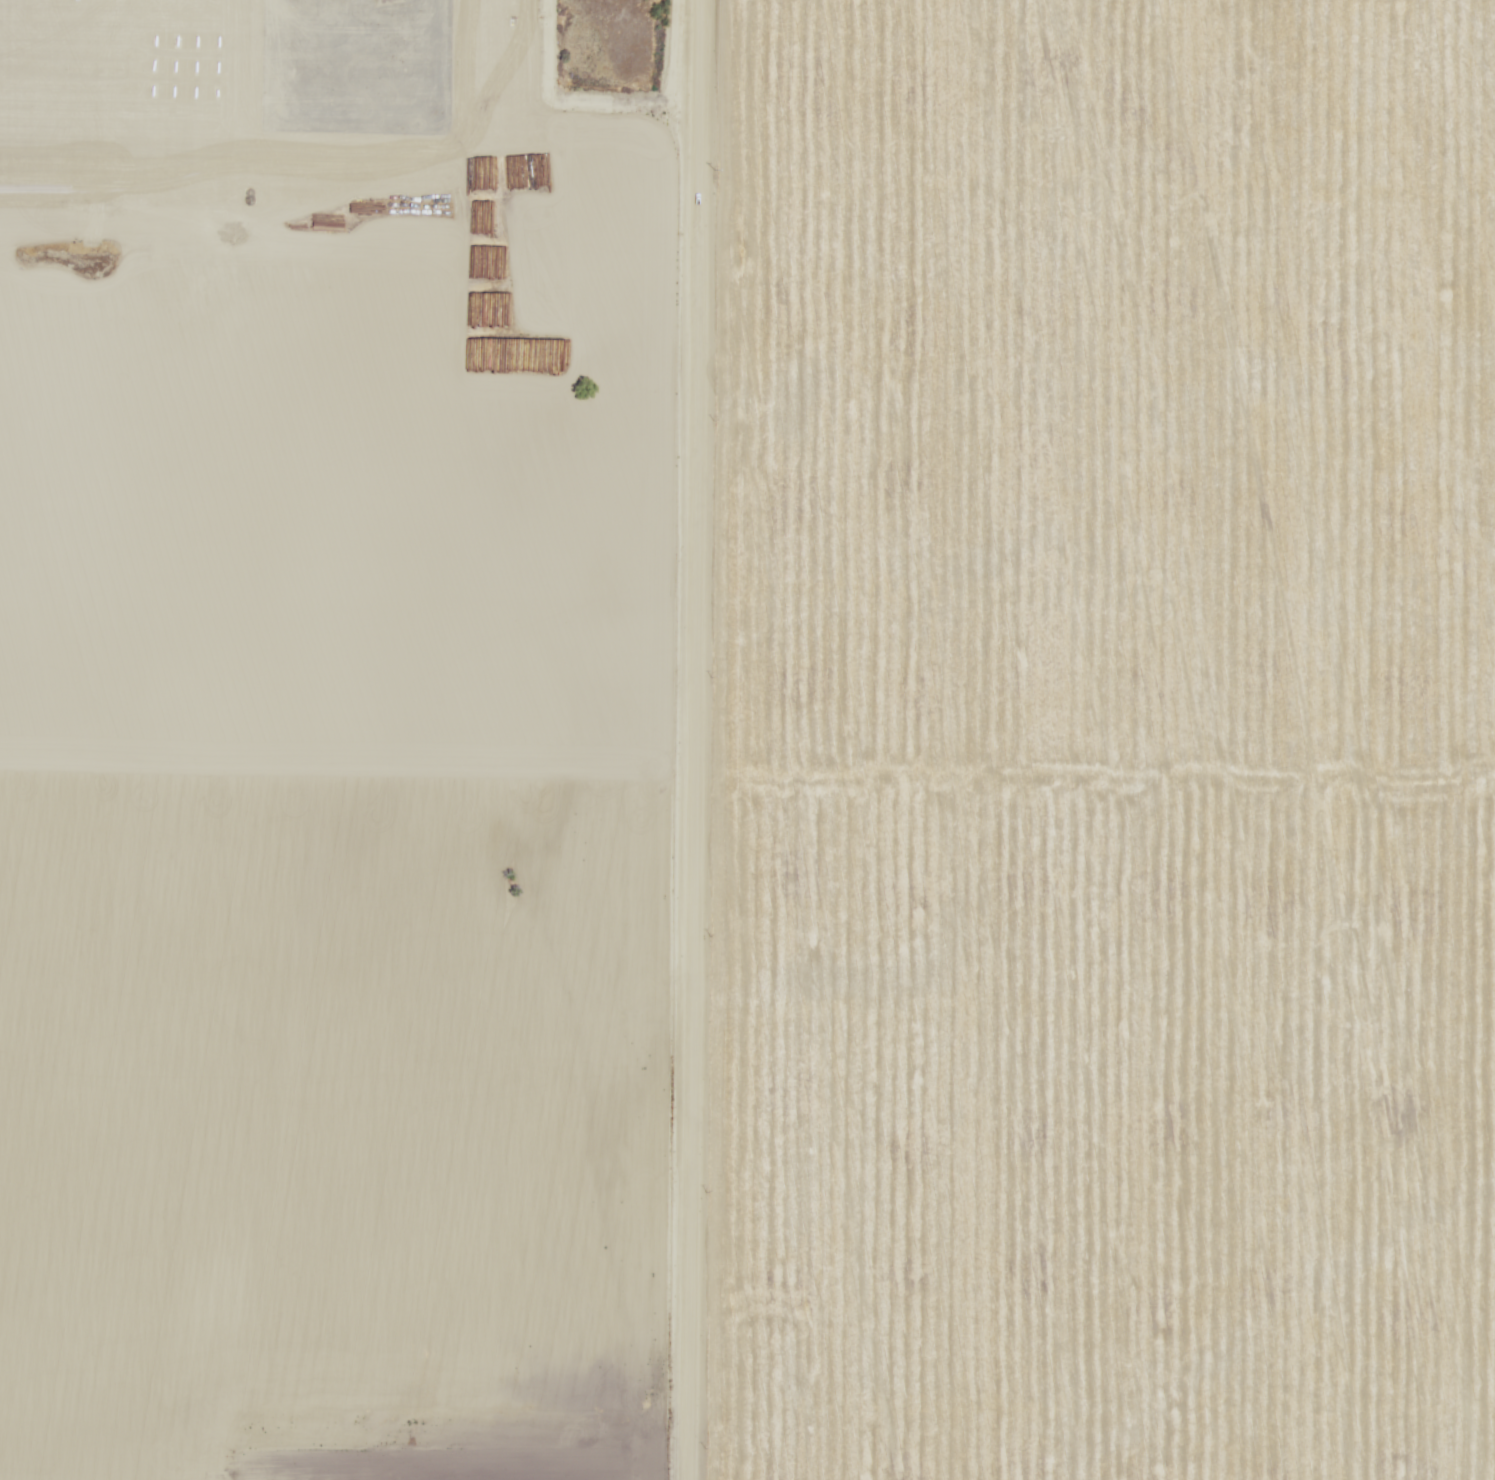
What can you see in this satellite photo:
crop: (363, 367)
road: (695, 740)
crop: (352, 1105)

